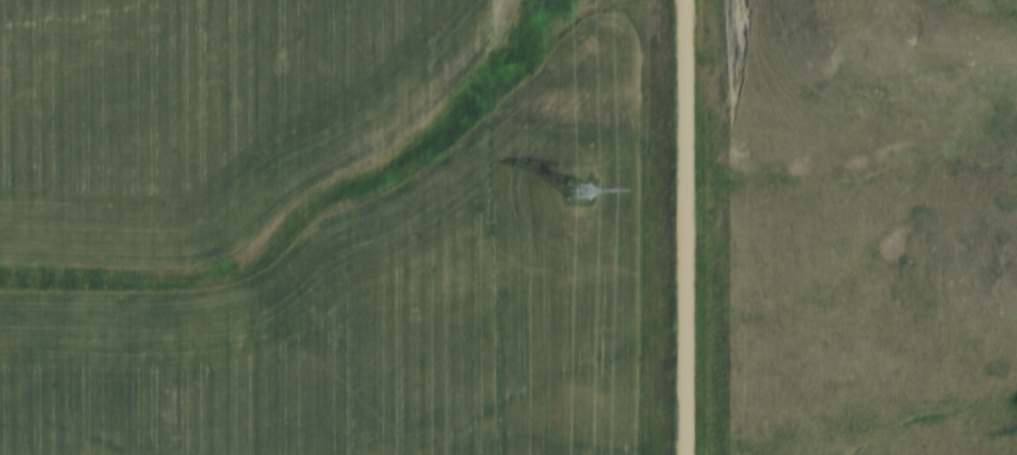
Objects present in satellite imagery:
power tower: (585, 194)
road: (686, 227)

